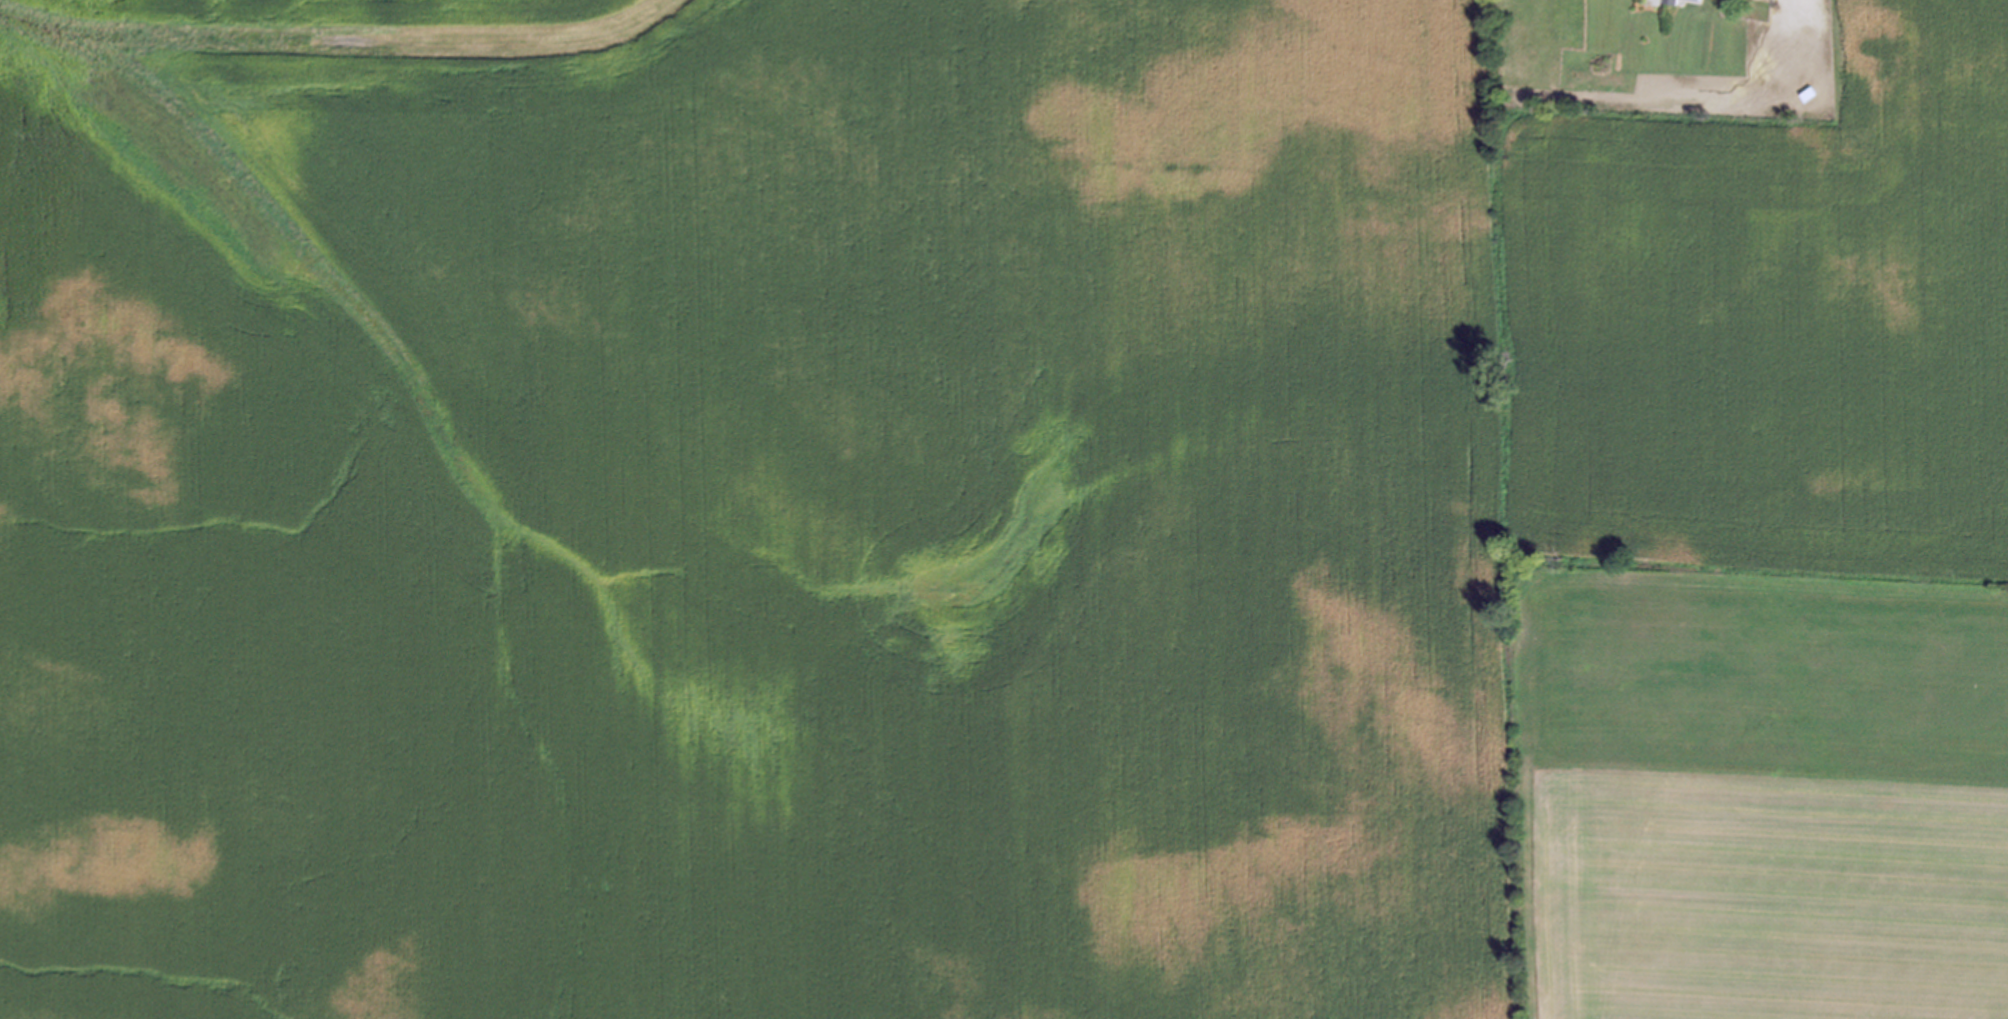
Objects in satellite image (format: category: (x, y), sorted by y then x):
building: (1651, 2)
building: (1806, 93)

